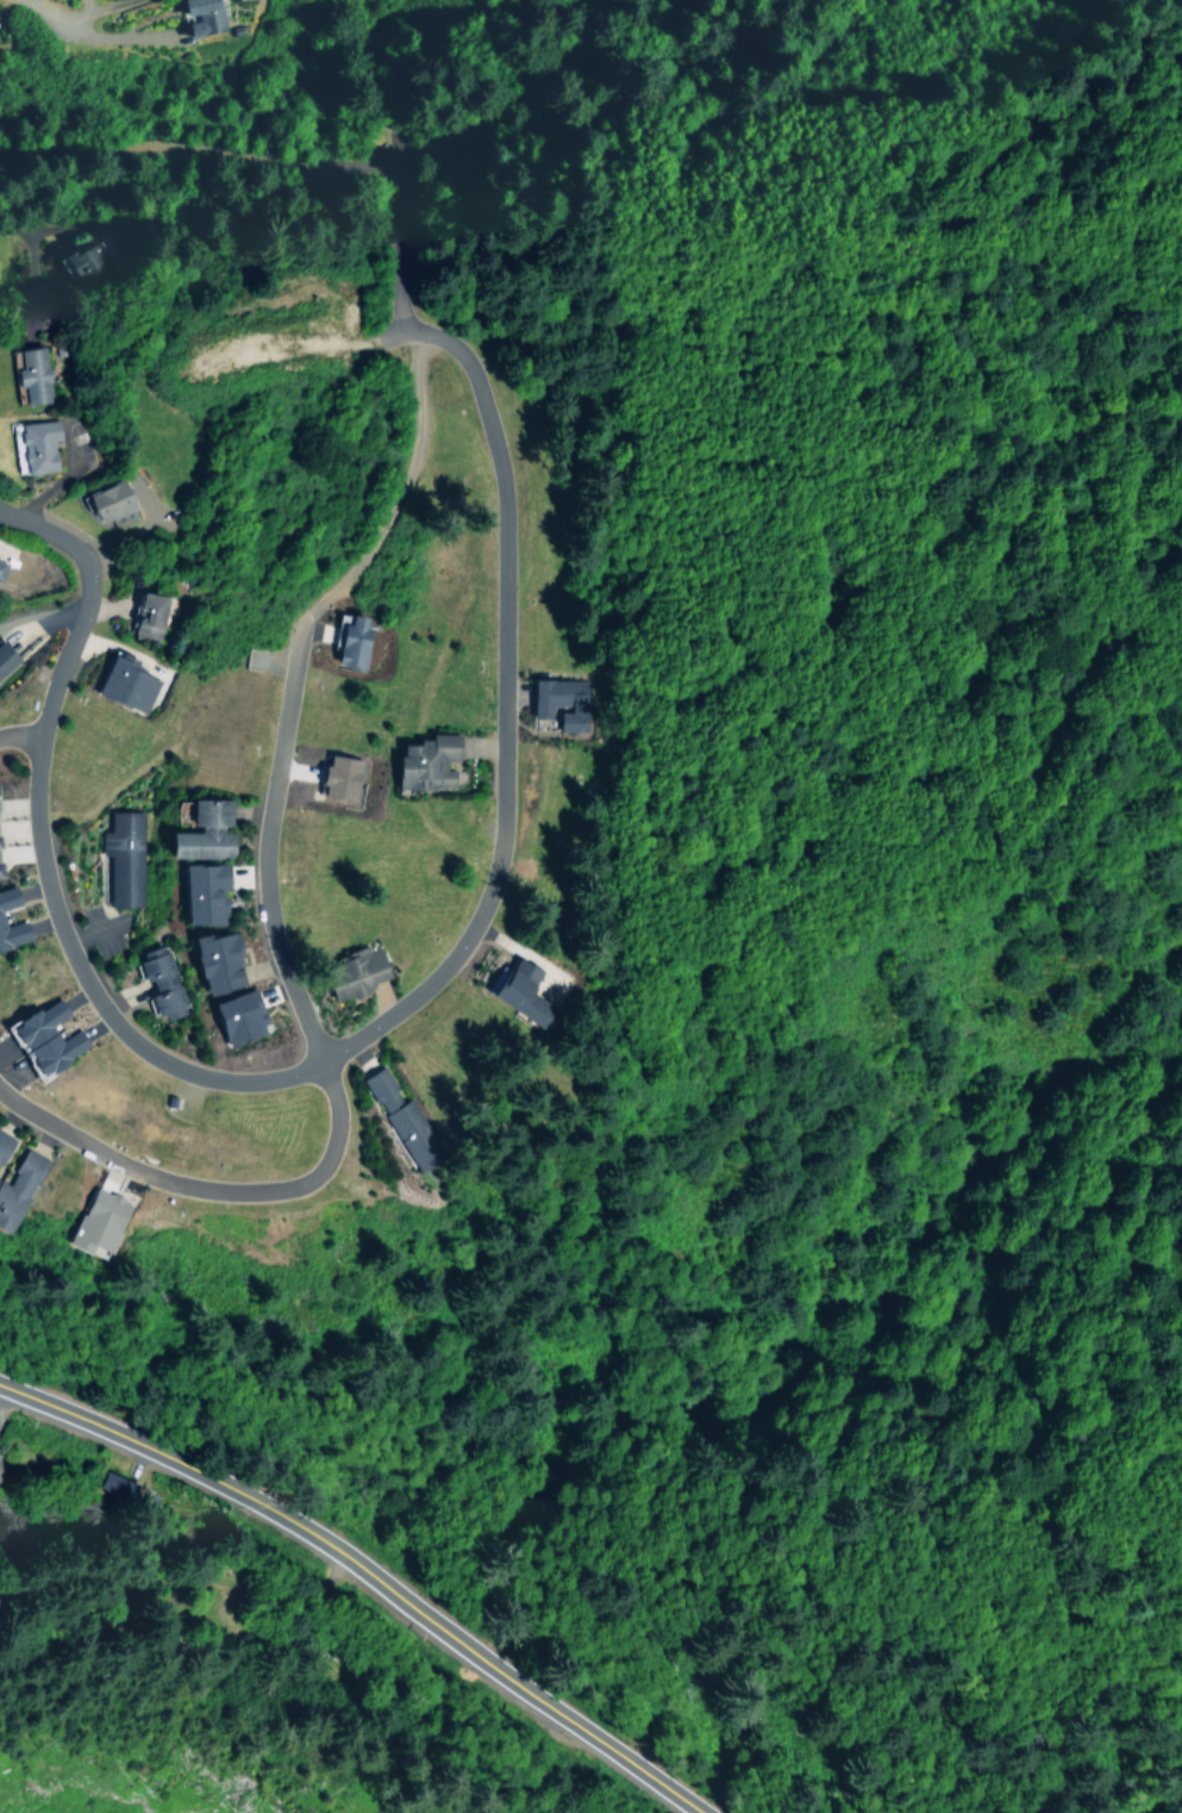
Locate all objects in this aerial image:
building: (201, 17)
road: (79, 21)
road: (1, 182)
building: (87, 262)
road: (454, 342)
building: (32, 373)
building: (33, 444)
building: (107, 500)
road: (38, 534)
building: (1, 561)
building: (148, 615)
building: (348, 638)
building: (124, 681)
road: (23, 737)
building: (424, 760)
building: (339, 775)
building: (201, 829)
building: (123, 856)
building: (0, 876)
building: (201, 891)
building: (6, 896)
road: (55, 908)
building: (11, 933)
building: (215, 960)
building: (355, 971)
building: (158, 979)
building: (515, 985)
building: (236, 1015)
building: (42, 1036)
building: (401, 1119)
building: (2, 1141)
road: (207, 1184)
building: (17, 1186)
building: (95, 1221)
road: (121, 1431)
building: (112, 1484)
road: (474, 1646)

